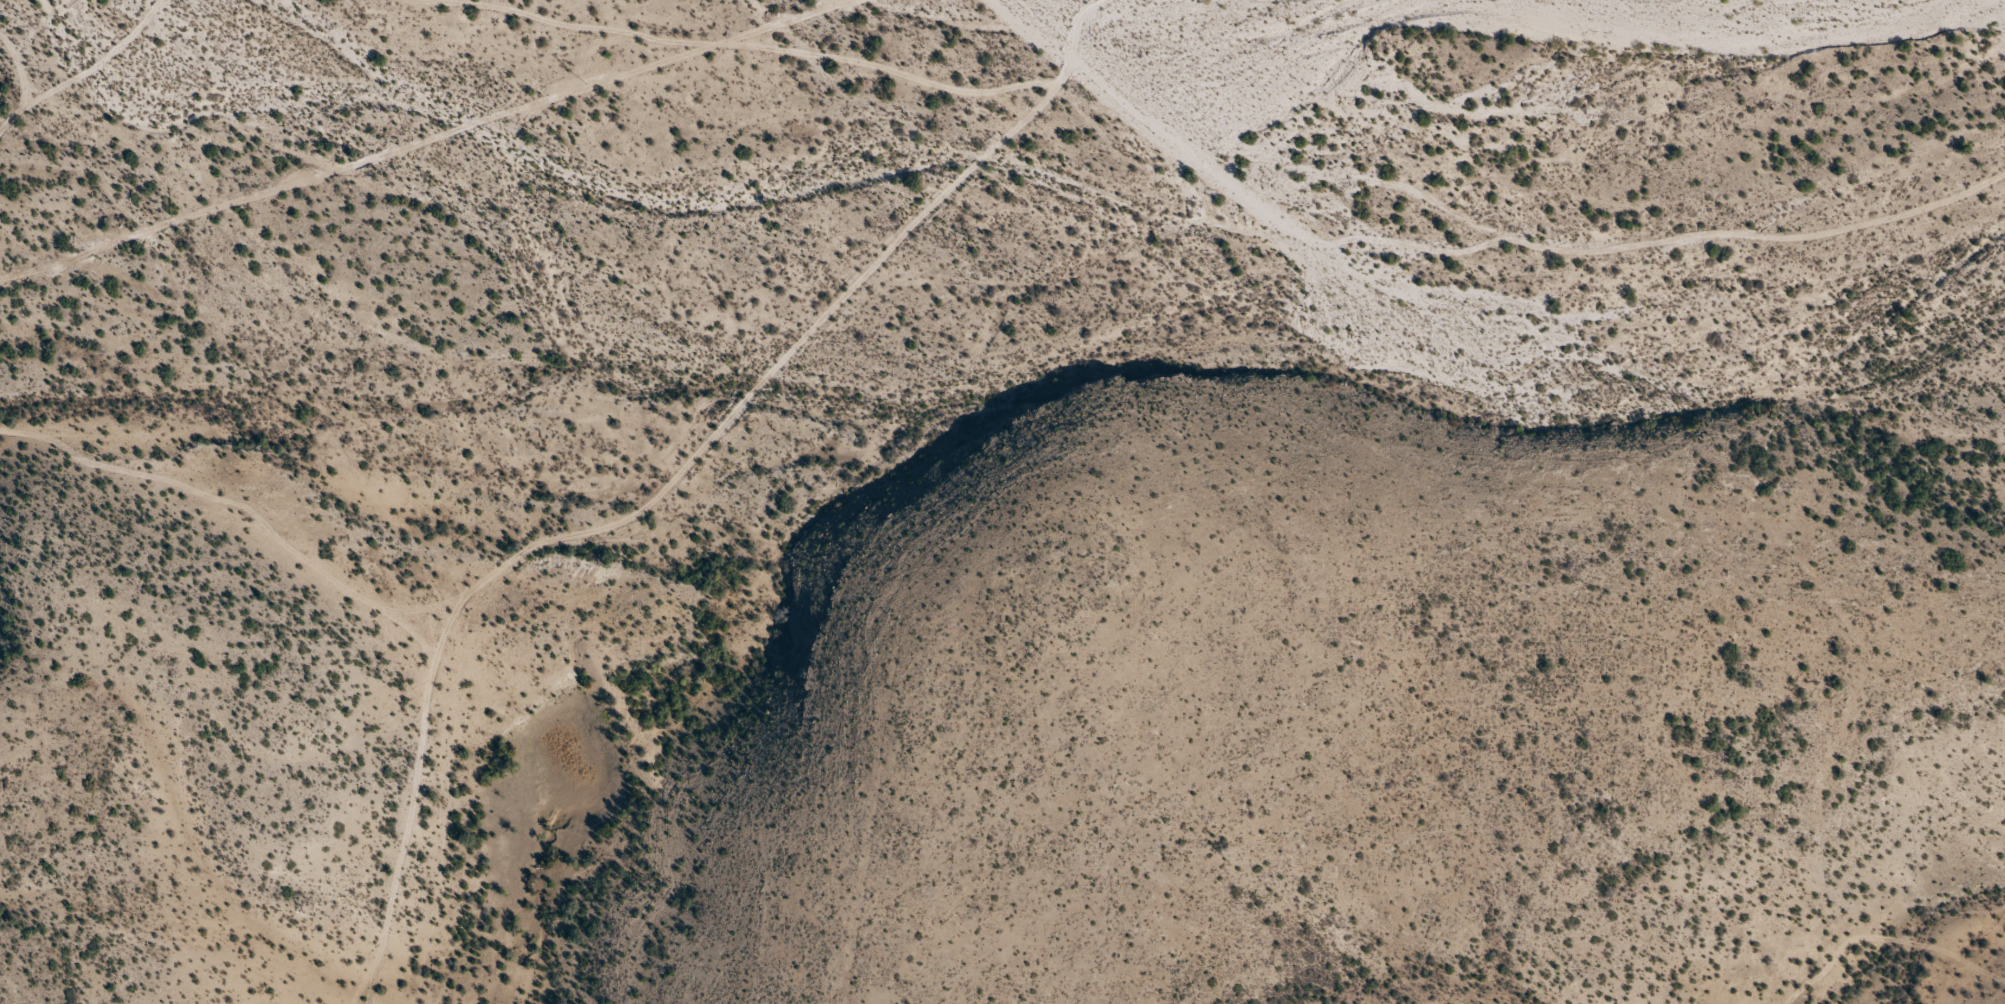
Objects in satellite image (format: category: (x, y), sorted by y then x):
road: (82, 80)

